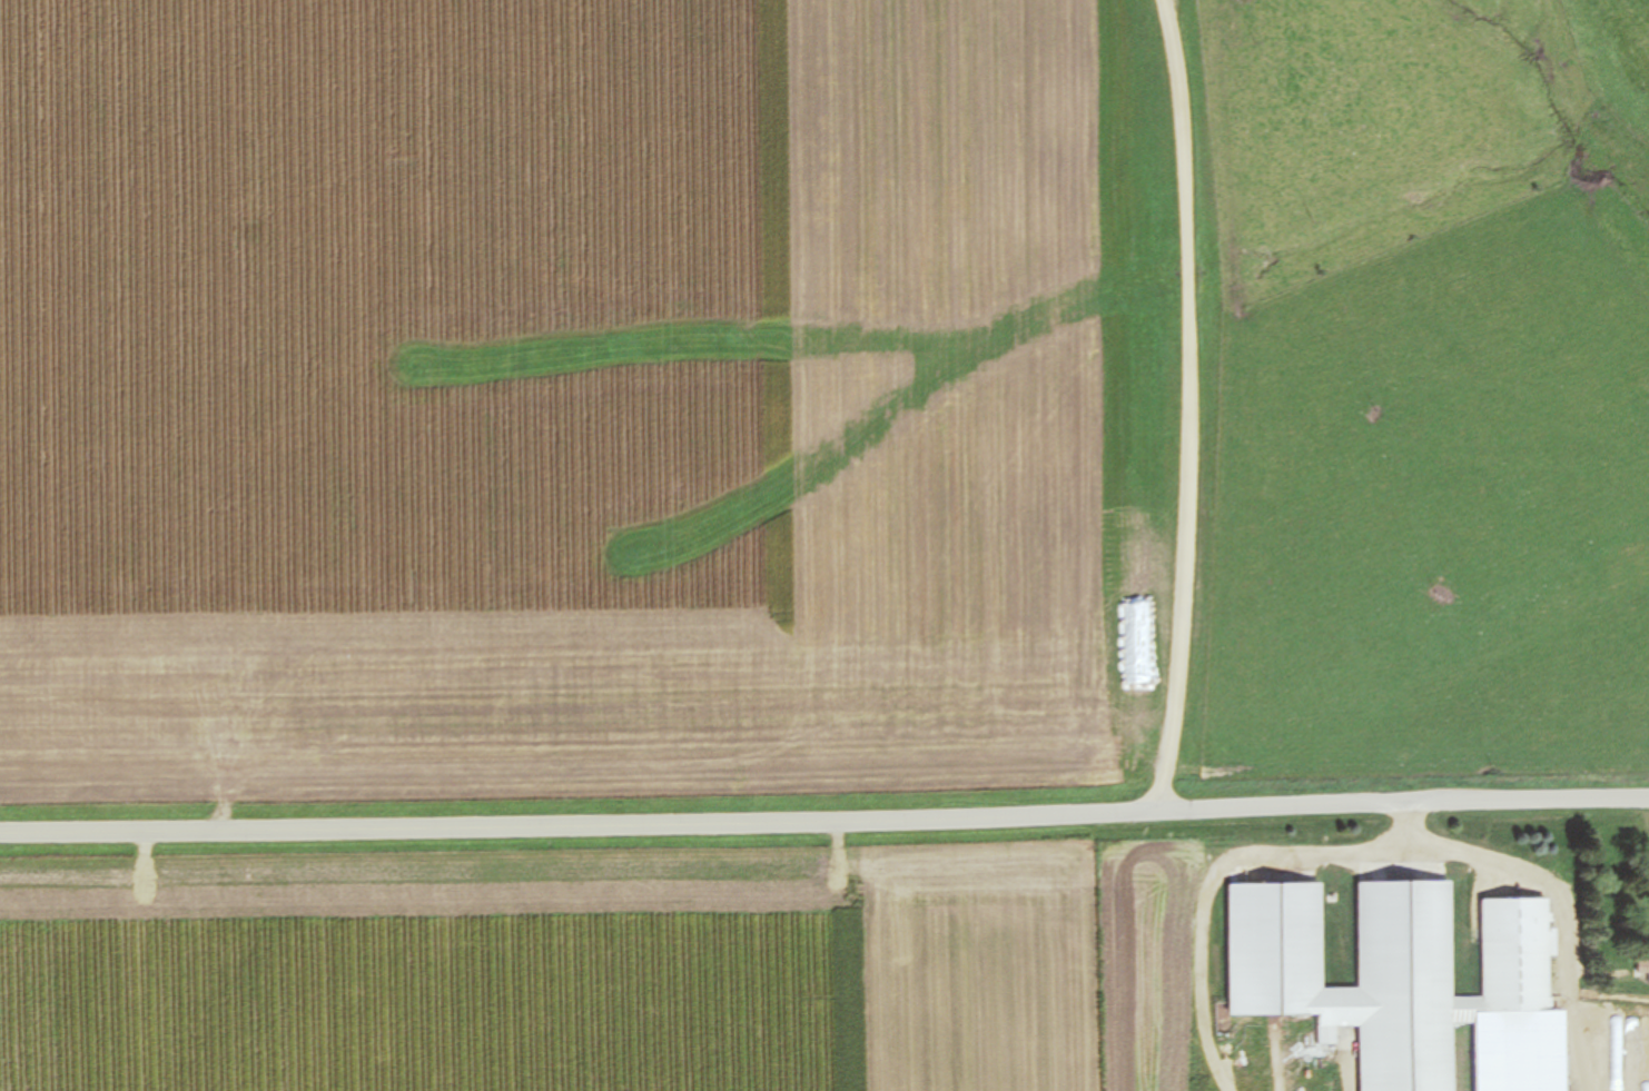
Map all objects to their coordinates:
road: (1186, 406)
road: (824, 822)
building: (1388, 970)
building: (1621, 1054)

